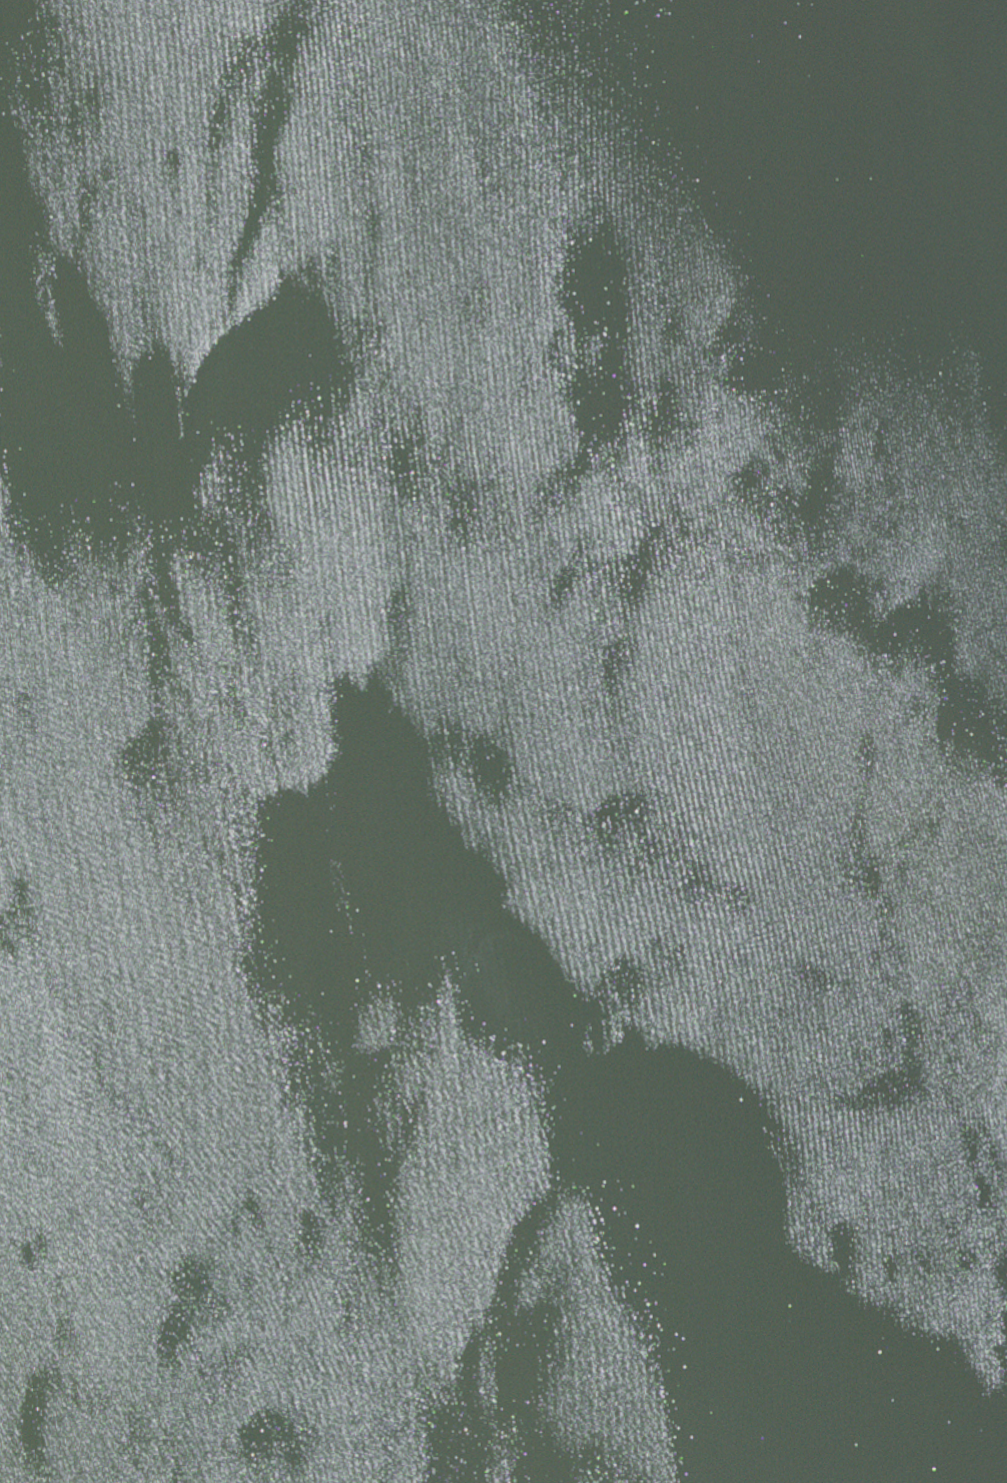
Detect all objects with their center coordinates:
river: (999, 23)

